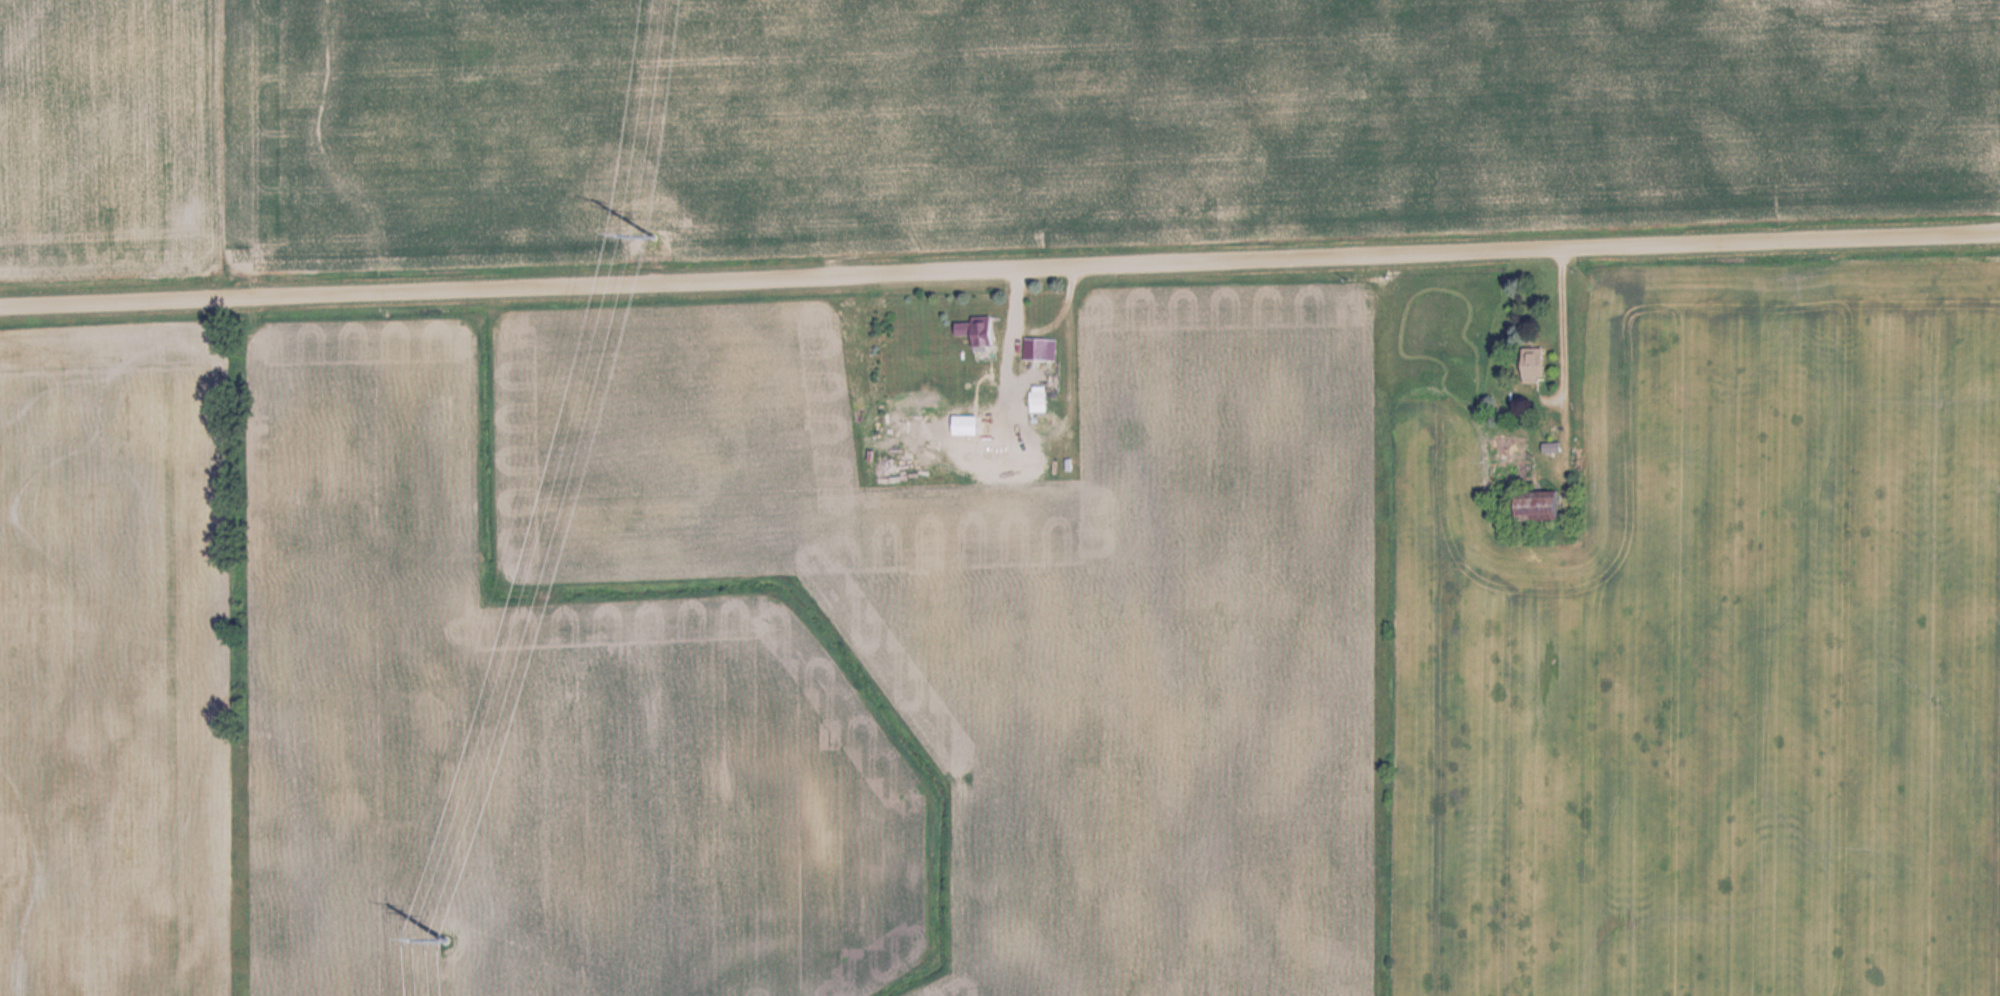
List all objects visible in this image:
power tower: (652, 223)
road: (1000, 271)
building: (988, 333)
building: (1037, 349)
building: (1539, 365)
building: (1040, 398)
building: (1000, 459)
power tower: (438, 932)

